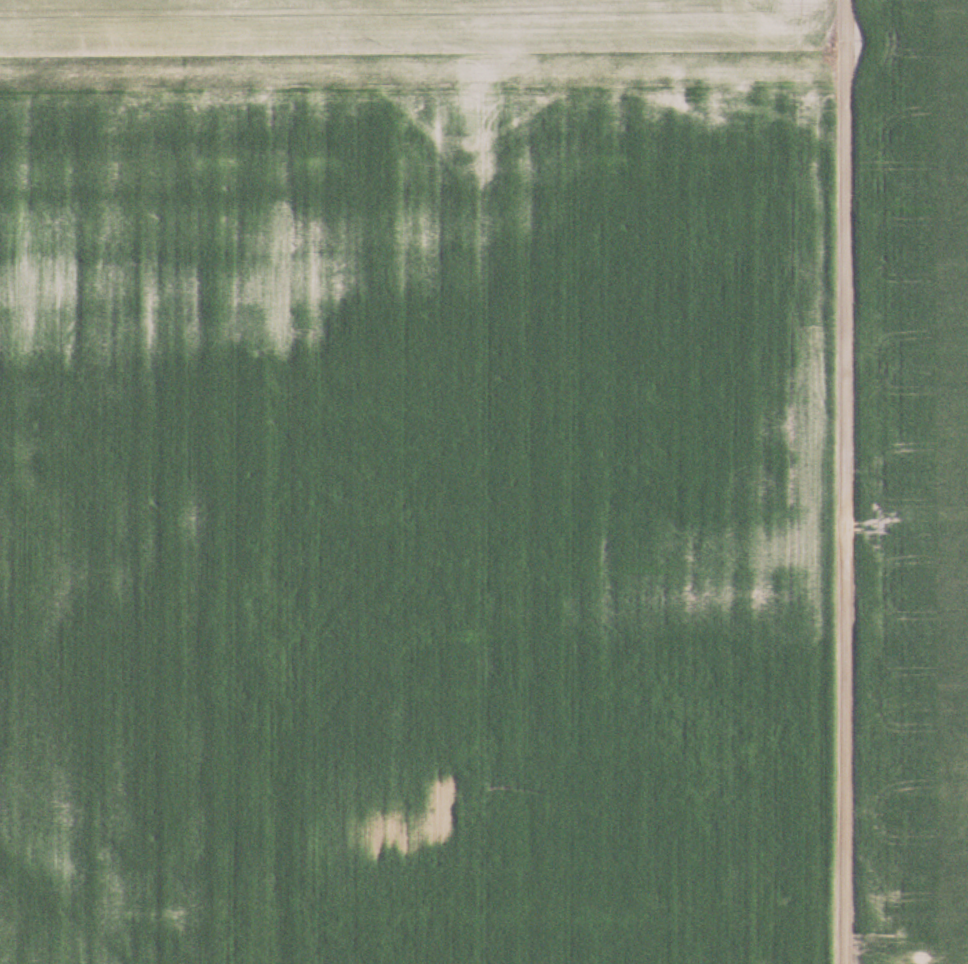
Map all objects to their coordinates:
road: (838, 482)

